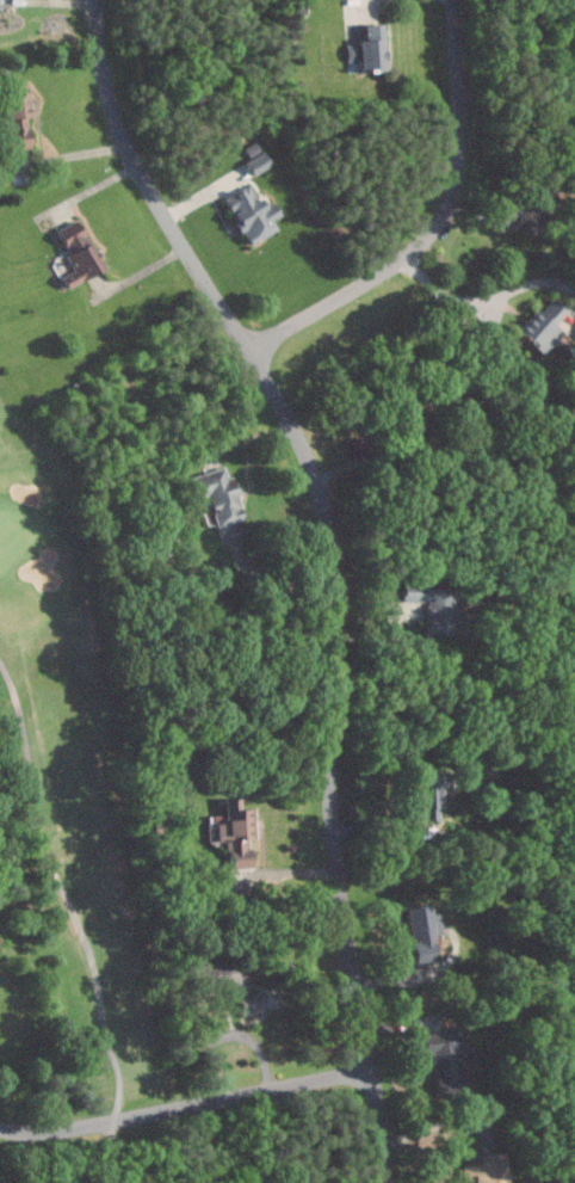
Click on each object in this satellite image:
road: (80, 1)
building: (366, 49)
building: (574, 57)
road: (515, 101)
building: (14, 113)
road: (72, 154)
road: (539, 196)
building: (248, 211)
road: (478, 215)
road: (437, 222)
road: (543, 228)
building: (76, 253)
road: (484, 298)
building: (542, 325)
building: (216, 493)
road: (332, 565)
road: (274, 579)
park: (287, 591)
building: (431, 604)
building: (425, 790)
building: (233, 831)
road: (64, 887)
building: (420, 930)
building: (223, 978)
building: (247, 1003)
building: (443, 1048)
road: (186, 1107)
road: (111, 1151)
building: (482, 1169)

